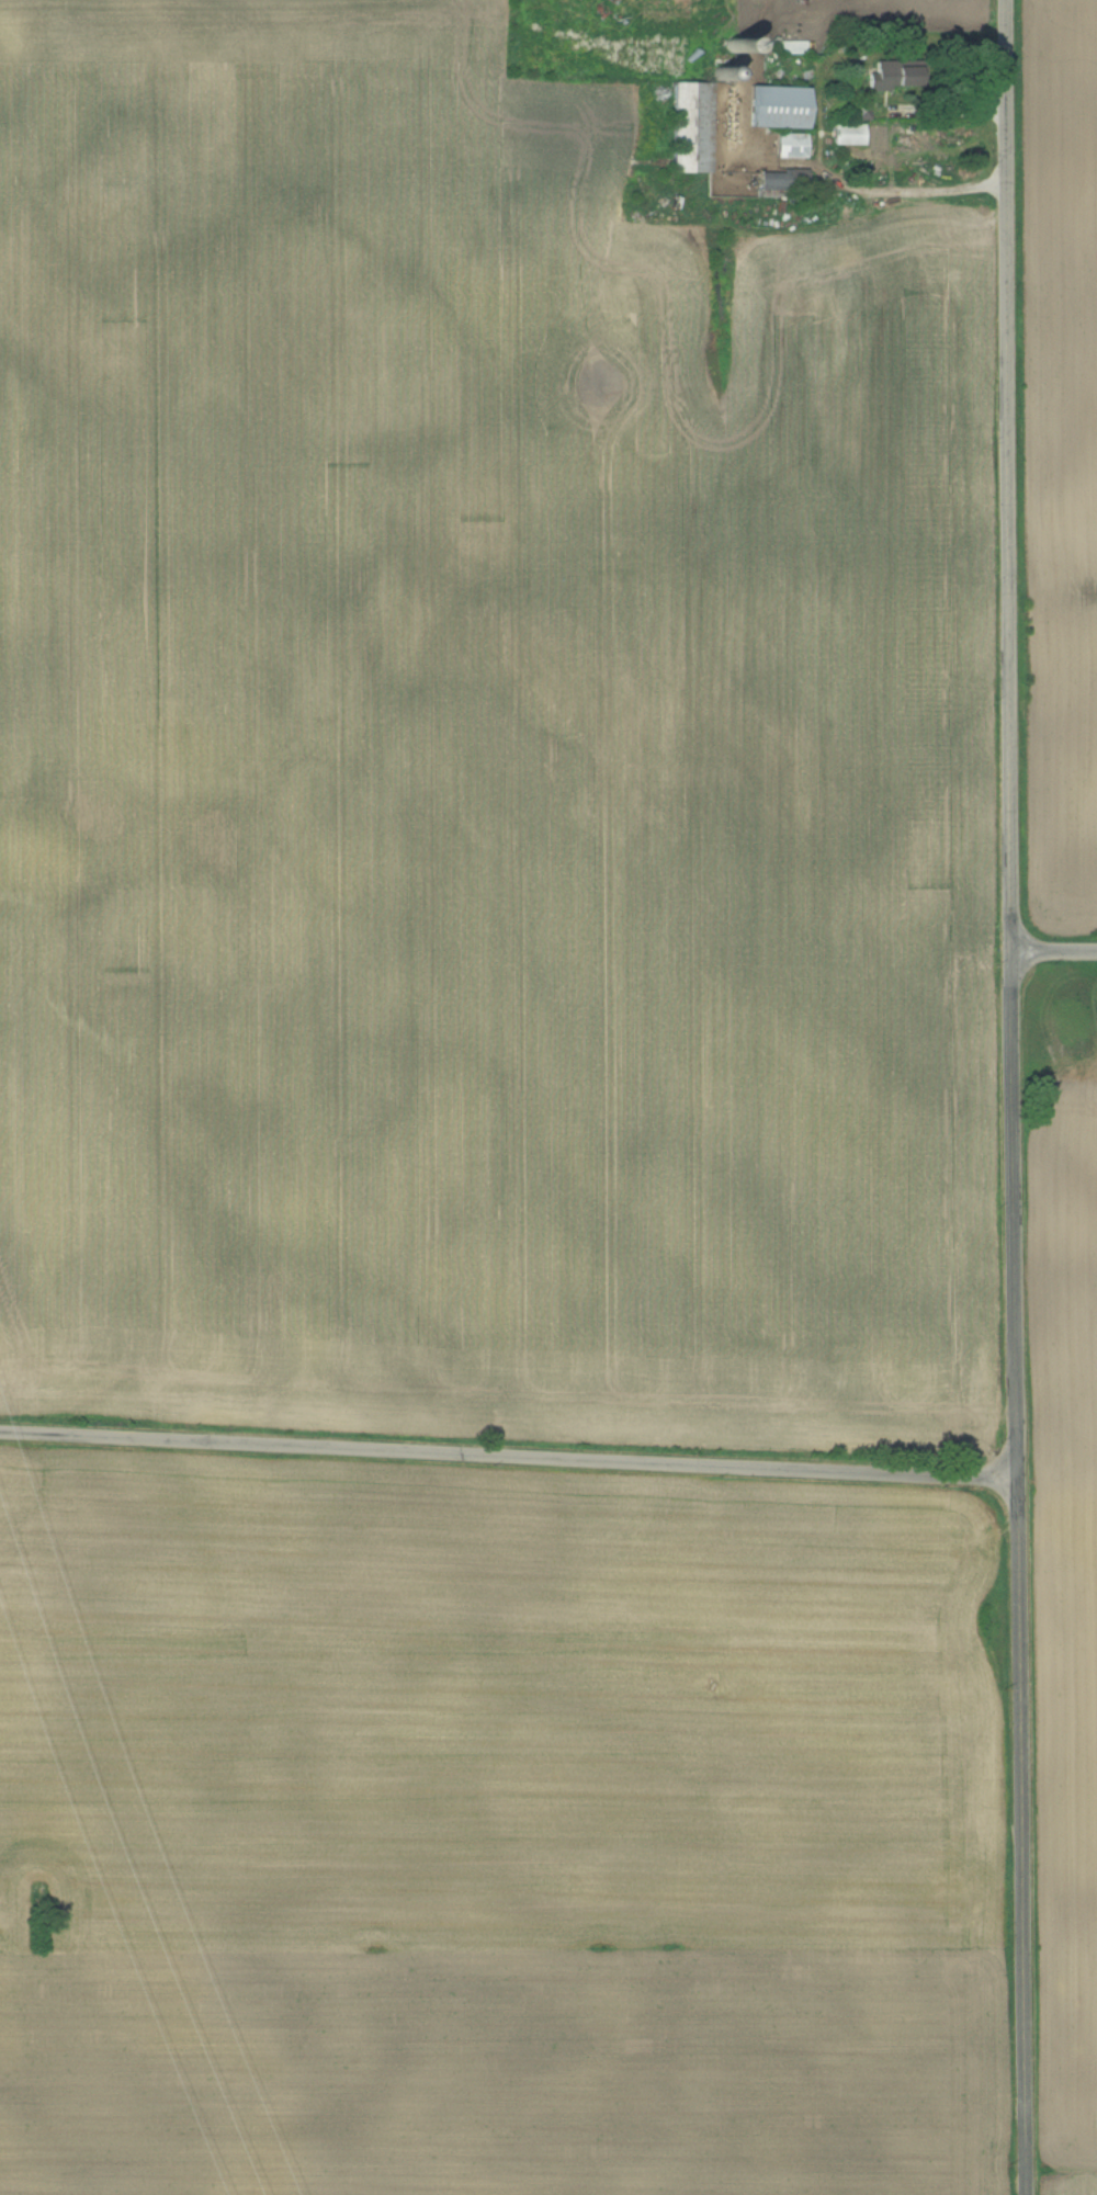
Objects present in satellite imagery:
building: (665, 12)
building: (895, 81)
building: (779, 106)
building: (698, 123)
building: (848, 134)
building: (792, 145)
building: (783, 180)
road: (1008, 476)
road: (1054, 952)
road: (509, 1455)
road: (1020, 1573)

